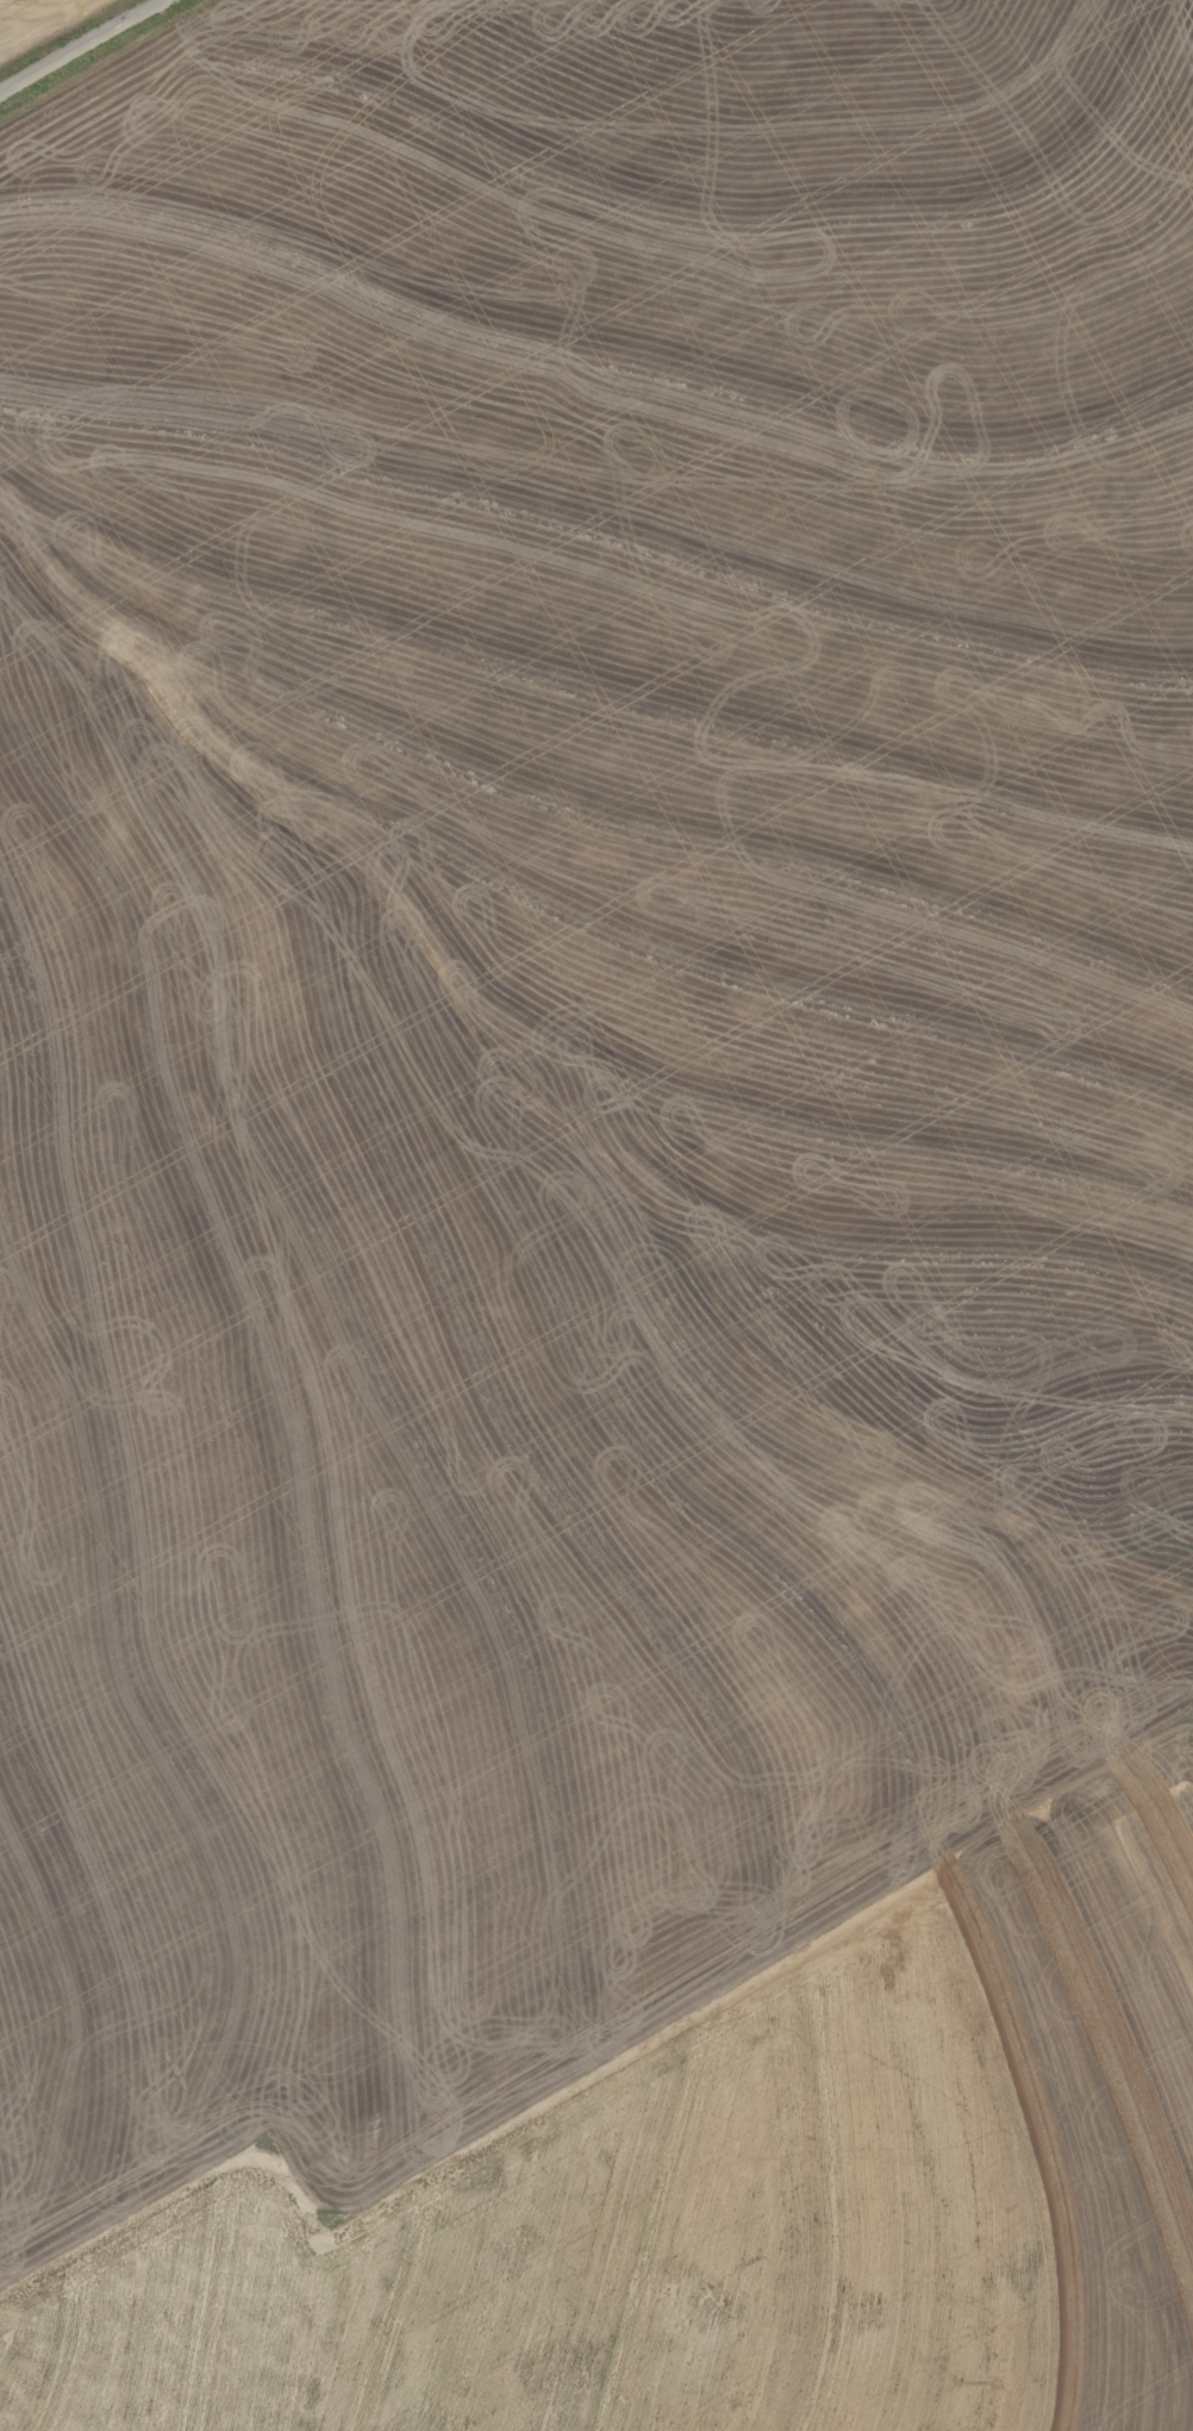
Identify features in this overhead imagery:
road: (80, 45)

